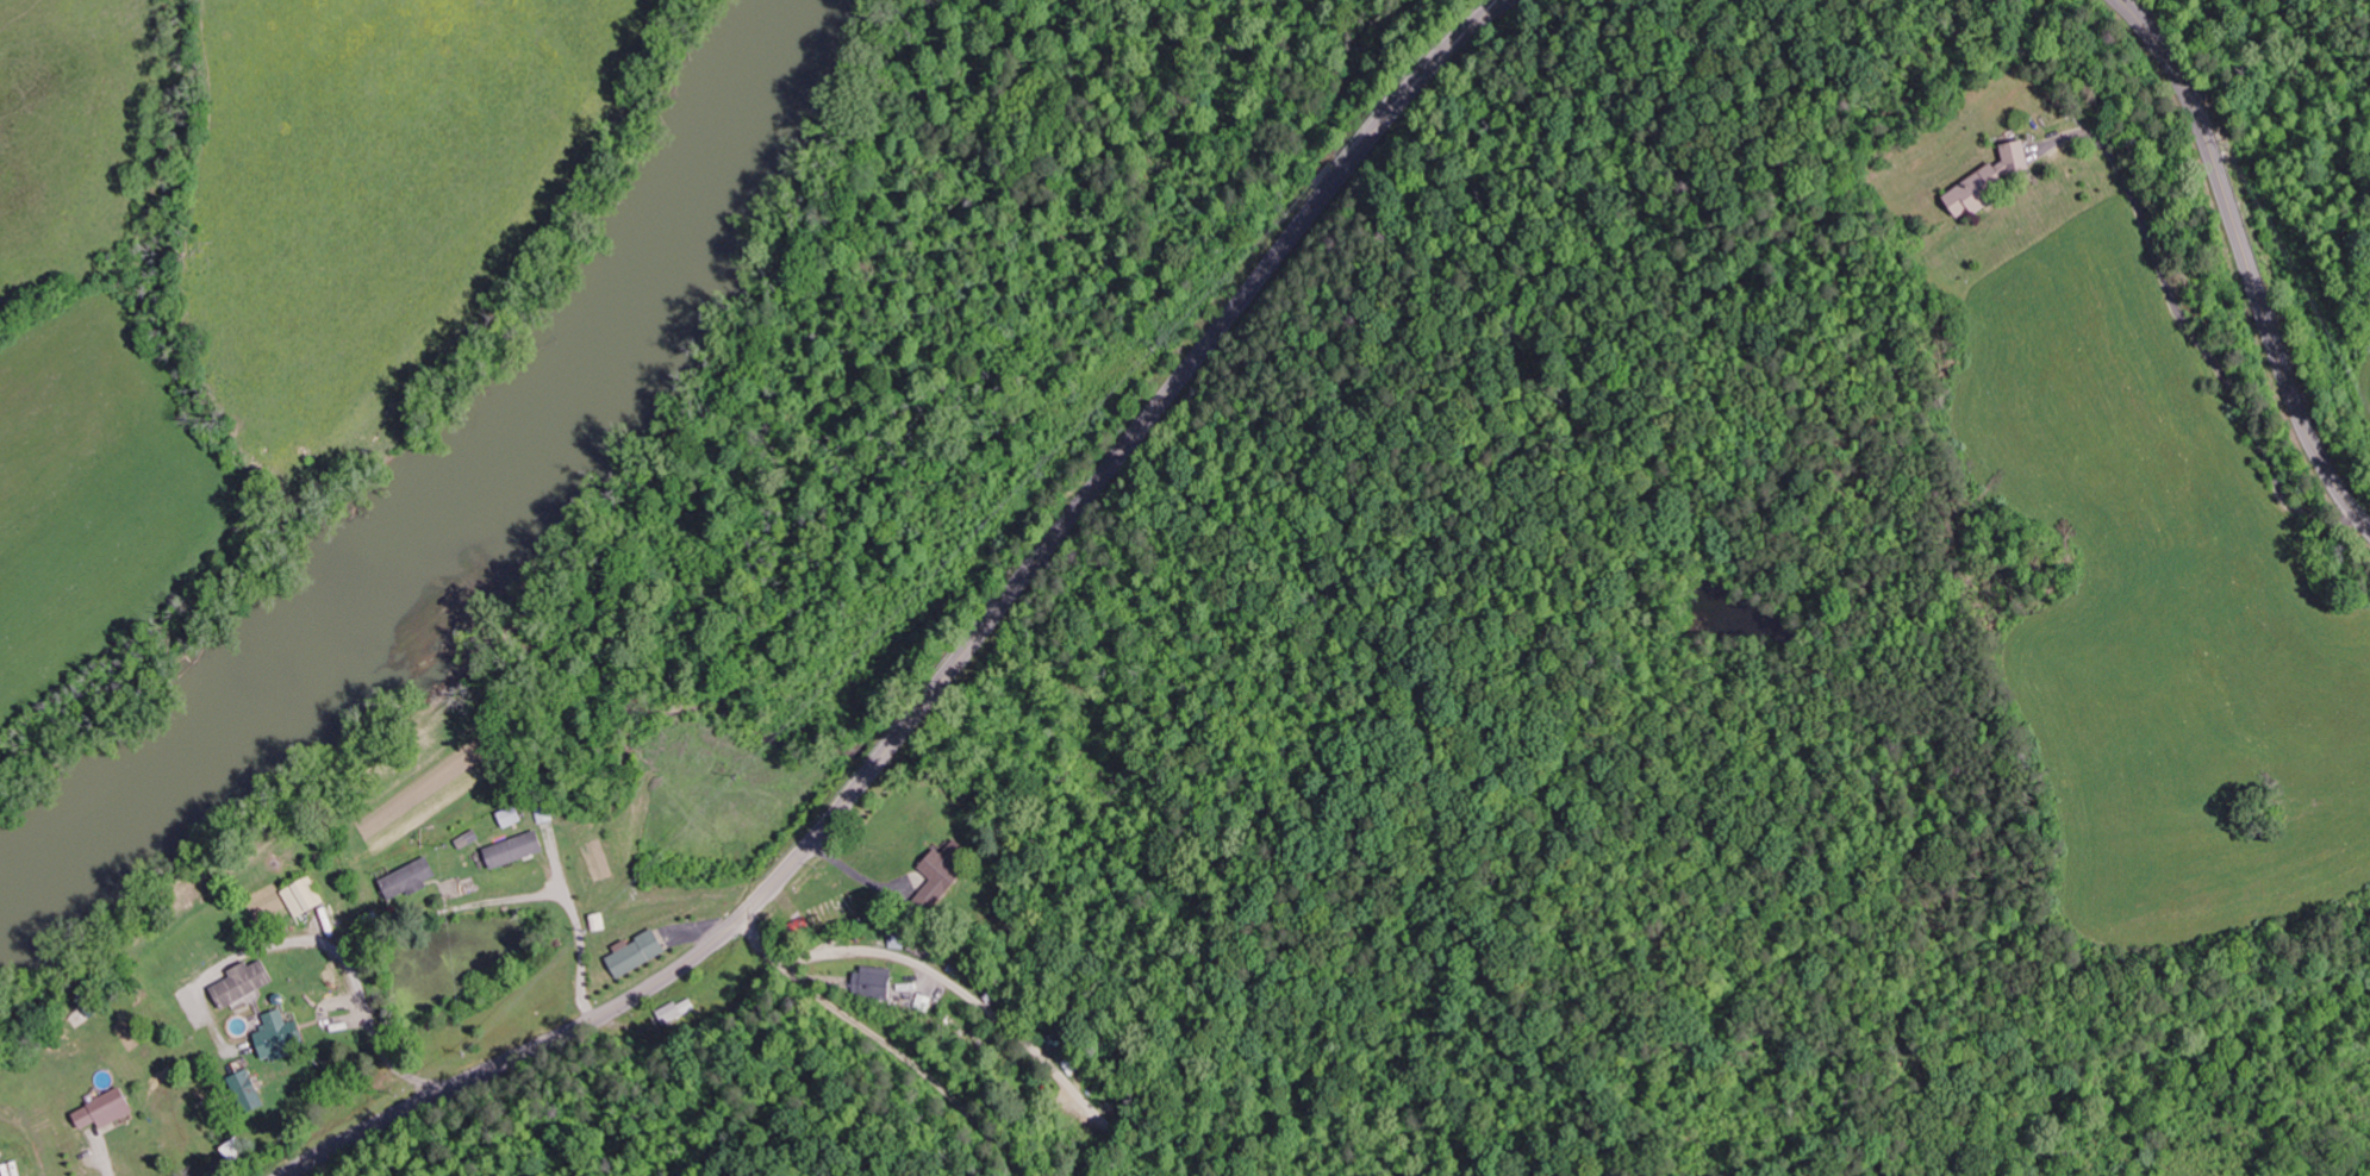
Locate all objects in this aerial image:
building: (1992, 181)
road: (2246, 261)
river: (484, 515)
road: (959, 658)
building: (514, 818)
building: (472, 840)
building: (519, 851)
building: (947, 868)
building: (412, 882)
building: (306, 899)
building: (603, 924)
building: (902, 943)
road: (569, 953)
building: (641, 953)
road: (336, 967)
building: (877, 983)
building: (245, 986)
road: (981, 1003)
building: (678, 1012)
building: (281, 1038)
building: (249, 1091)
building: (108, 1112)
road: (99, 1164)

